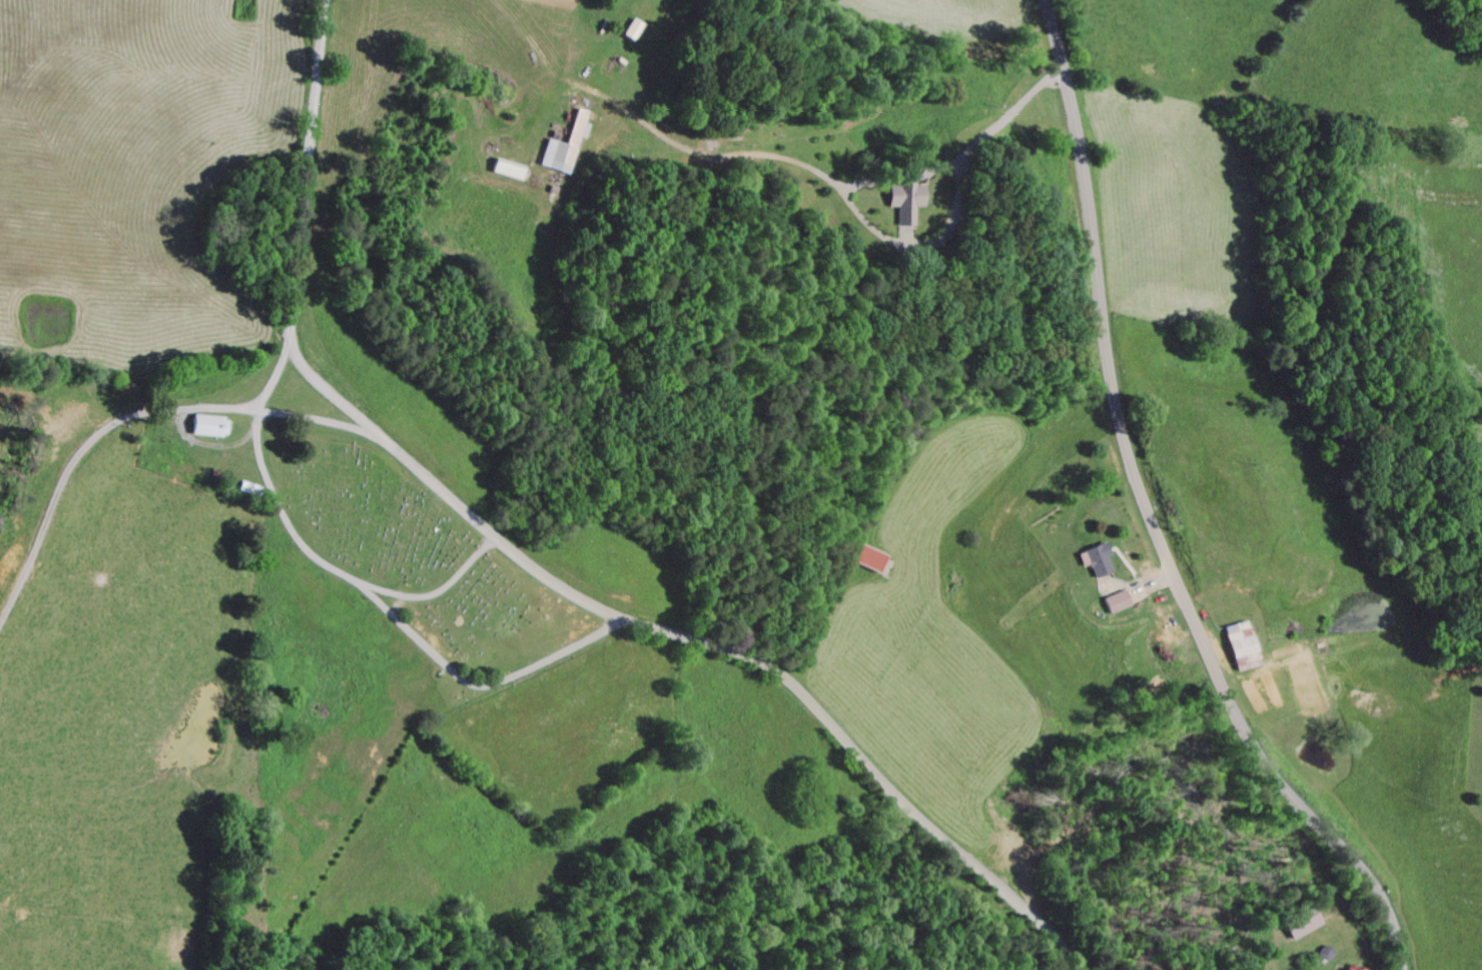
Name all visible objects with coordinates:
building: (630, 32)
building: (564, 149)
building: (902, 202)
road: (318, 424)
building: (204, 428)
road: (110, 429)
road: (1149, 514)
building: (868, 562)
building: (1092, 562)
road: (541, 574)
road: (335, 575)
building: (1114, 605)
building: (1238, 649)
road: (480, 687)
building: (1344, 969)

